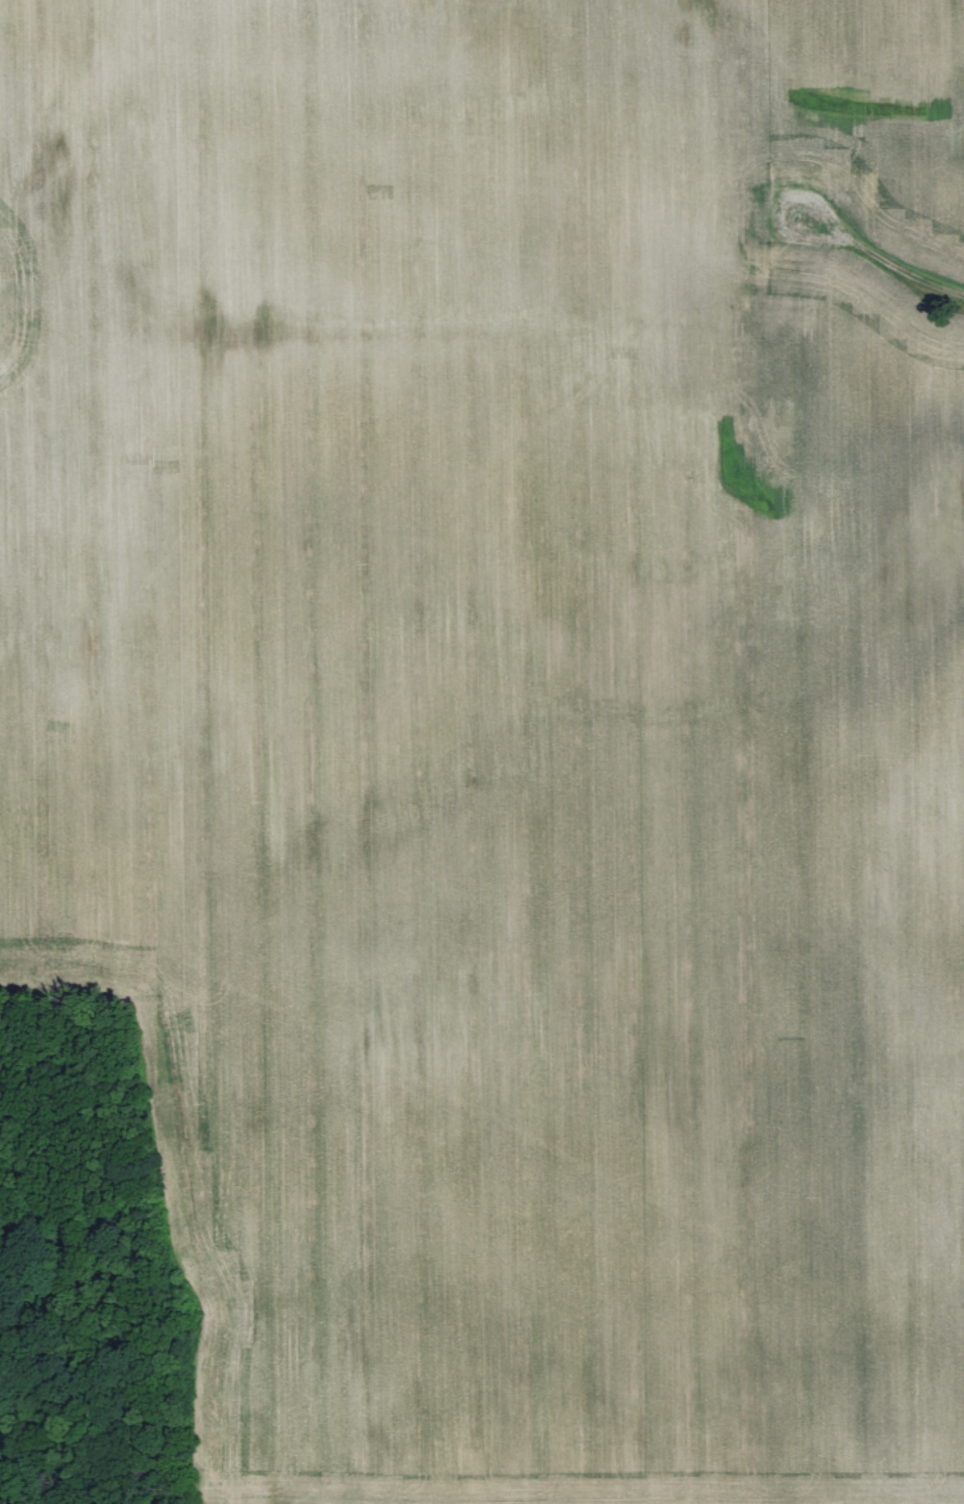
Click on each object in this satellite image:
road: (876, 257)

